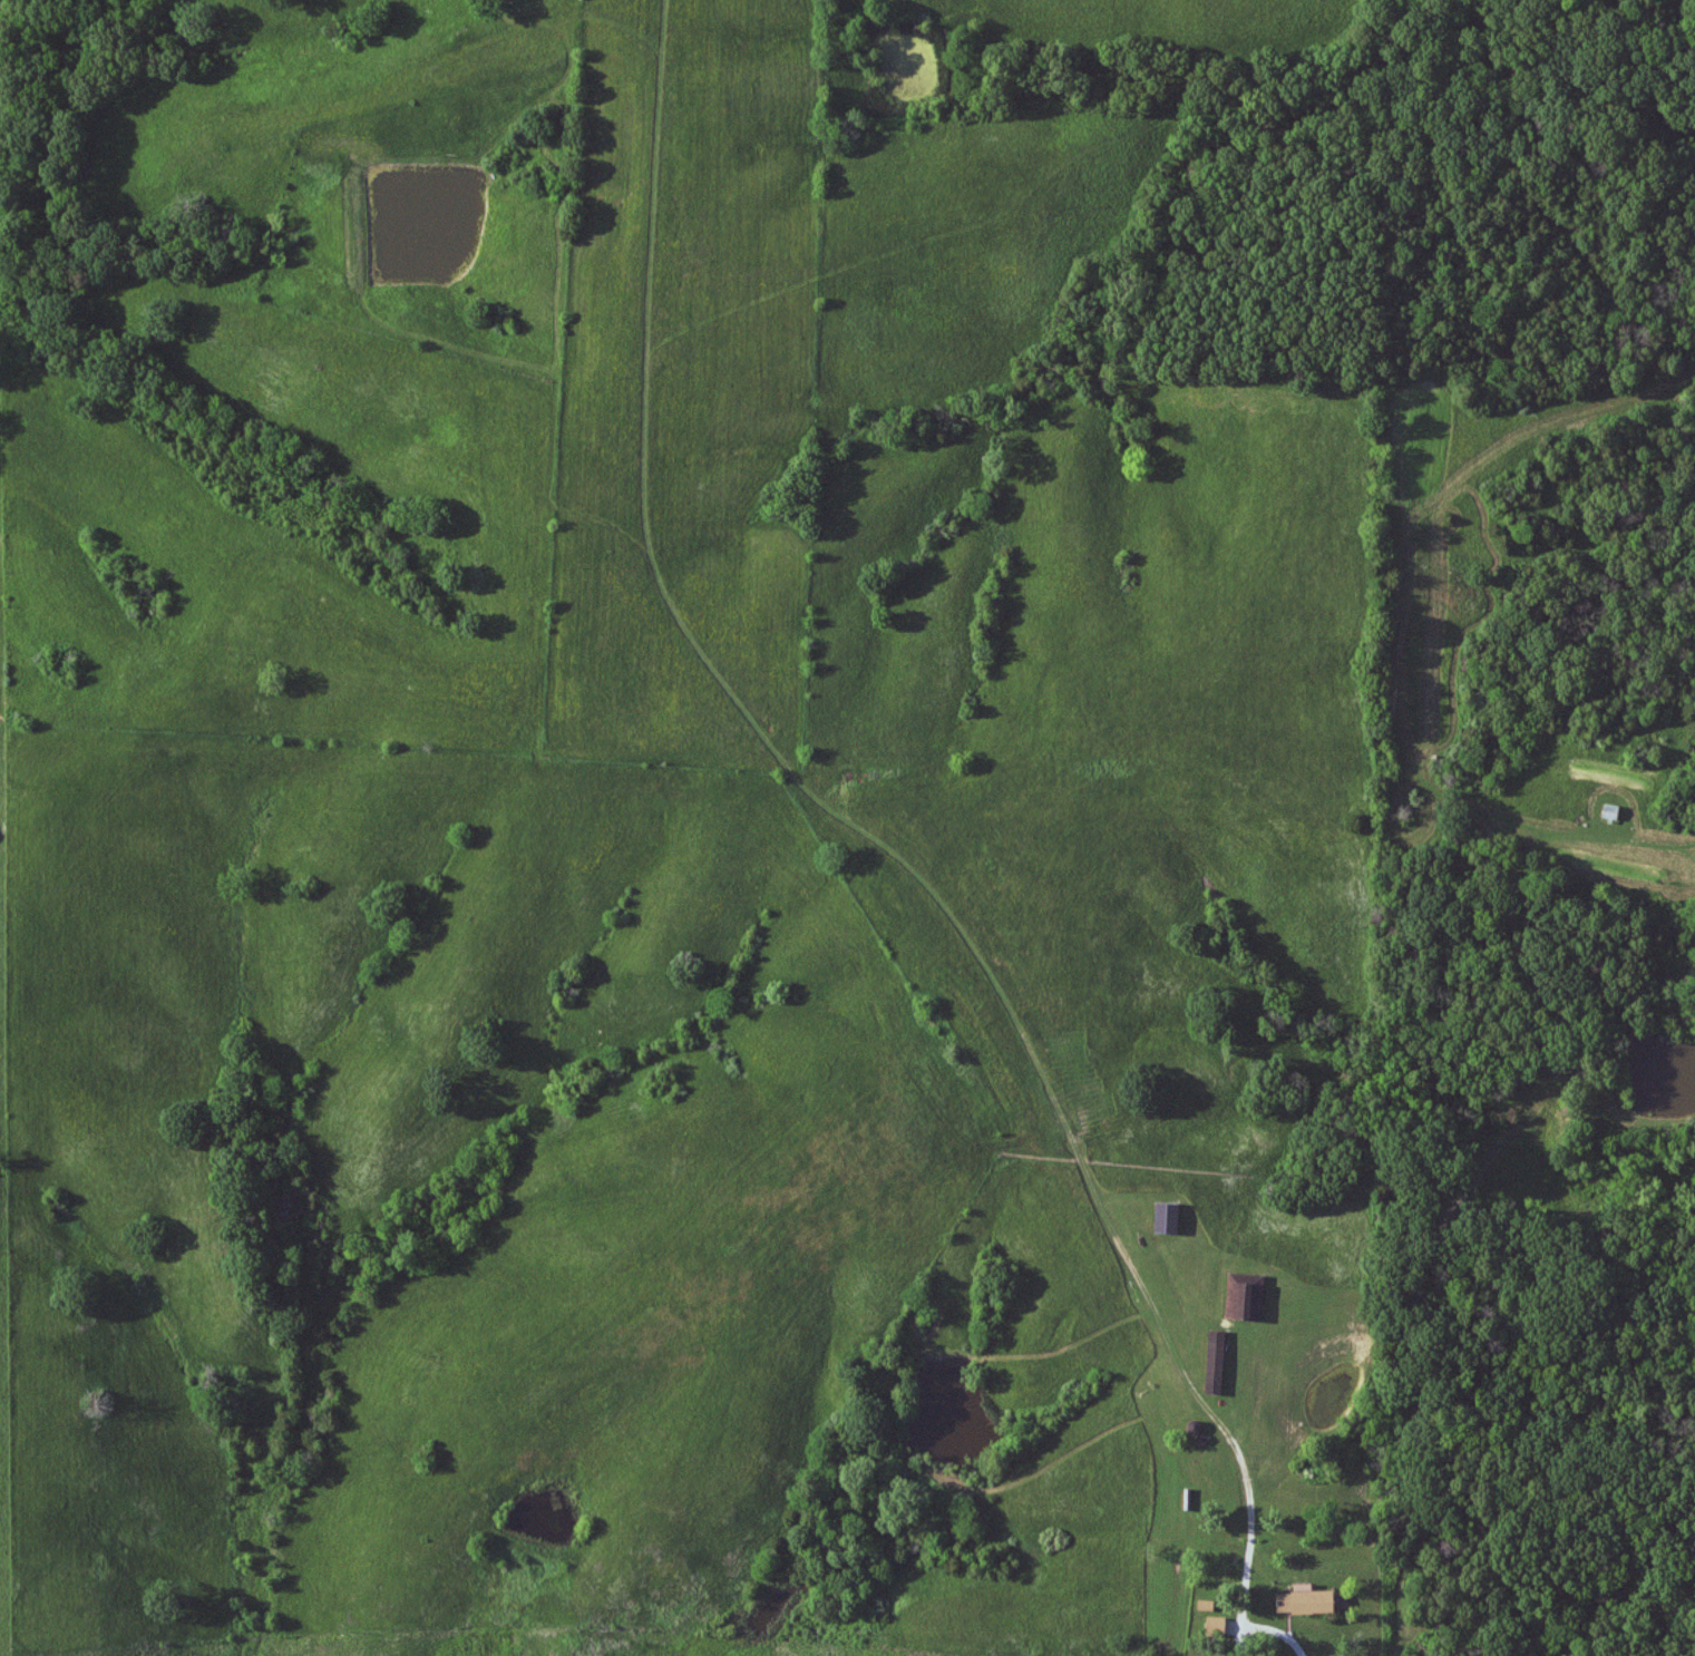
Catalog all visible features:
building: (1298, 1601)
road: (1237, 1639)

